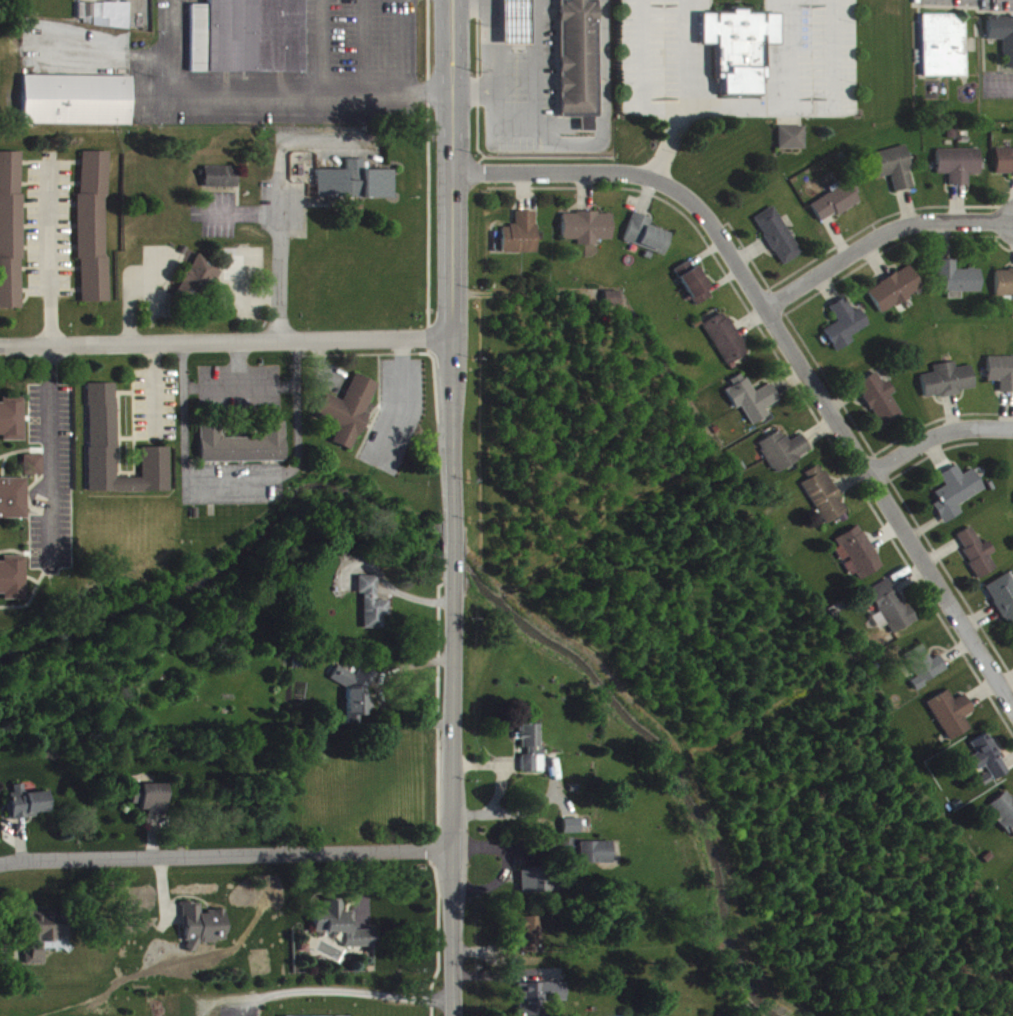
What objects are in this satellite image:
road: (475, 11)
building: (105, 23)
building: (518, 27)
building: (249, 41)
building: (1004, 43)
road: (649, 50)
building: (946, 53)
building: (744, 57)
building: (581, 68)
road: (341, 89)
building: (77, 108)
road: (840, 109)
road: (541, 124)
building: (794, 145)
road: (672, 153)
building: (1004, 170)
building: (960, 172)
building: (894, 175)
road: (640, 178)
building: (221, 185)
building: (355, 190)
building: (837, 210)
building: (96, 235)
building: (587, 235)
road: (881, 235)
building: (13, 238)
building: (521, 242)
building: (647, 243)
building: (779, 244)
road: (276, 257)
road: (53, 259)
road: (452, 268)
building: (200, 286)
building: (958, 287)
building: (694, 290)
building: (1005, 292)
building: (896, 297)
building: (614, 306)
building: (845, 332)
road: (225, 340)
building: (727, 348)
building: (1001, 380)
building: (948, 388)
road: (158, 391)
building: (880, 407)
building: (753, 408)
building: (347, 419)
building: (103, 423)
building: (12, 425)
road: (938, 434)
building: (243, 453)
road: (53, 455)
building: (783, 458)
building: (33, 473)
building: (956, 500)
building: (823, 503)
road: (892, 505)
building: (13, 506)
road: (450, 556)
building: (977, 560)
building: (857, 561)
building: (12, 584)
building: (1003, 605)
building: (373, 611)
building: (891, 614)
building: (879, 629)
building: (925, 674)
building: (357, 700)
building: (951, 722)
building: (532, 756)
building: (989, 766)
road: (450, 796)
building: (151, 806)
building: (26, 811)
building: (1004, 819)
building: (573, 834)
road: (242, 855)
building: (598, 861)
road: (17, 866)
building: (538, 889)
building: (338, 922)
building: (204, 929)
road: (437, 937)
building: (532, 943)
building: (42, 945)
road: (336, 991)
building: (540, 1002)
parking lot: (236, 1010)
building: (302, 1015)

